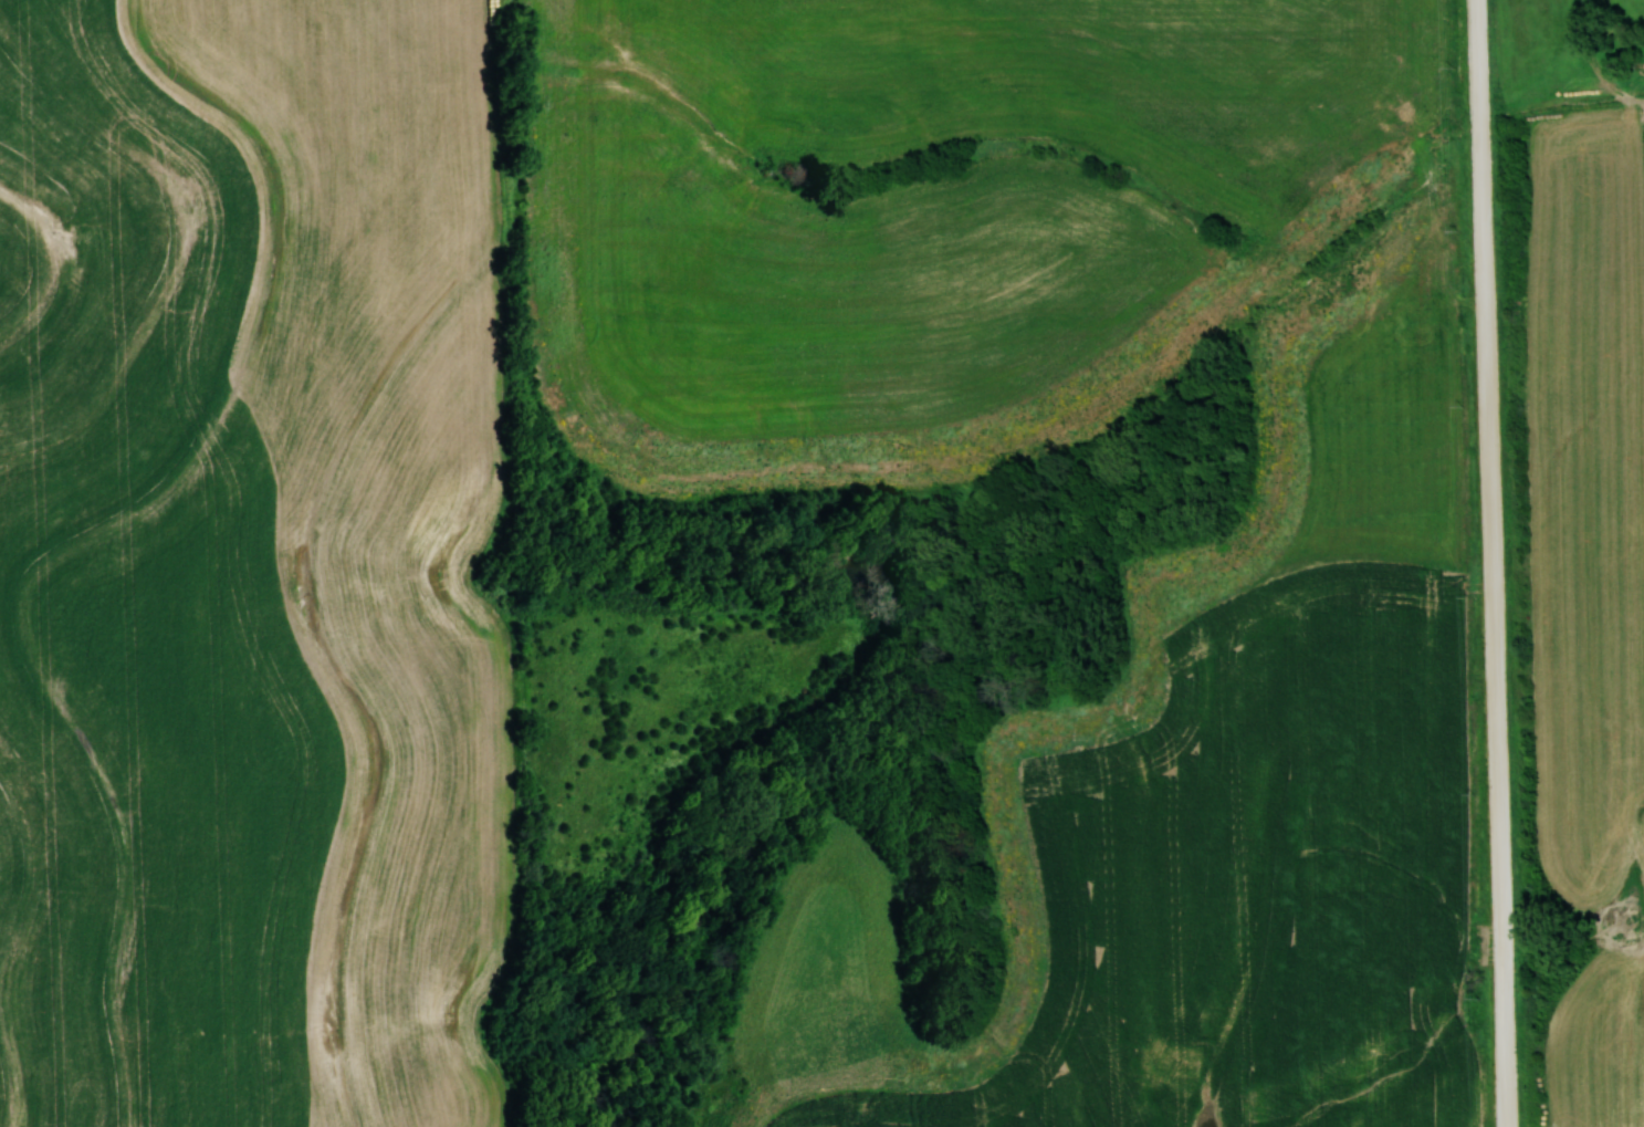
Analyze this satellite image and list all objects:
road: (1499, 563)

